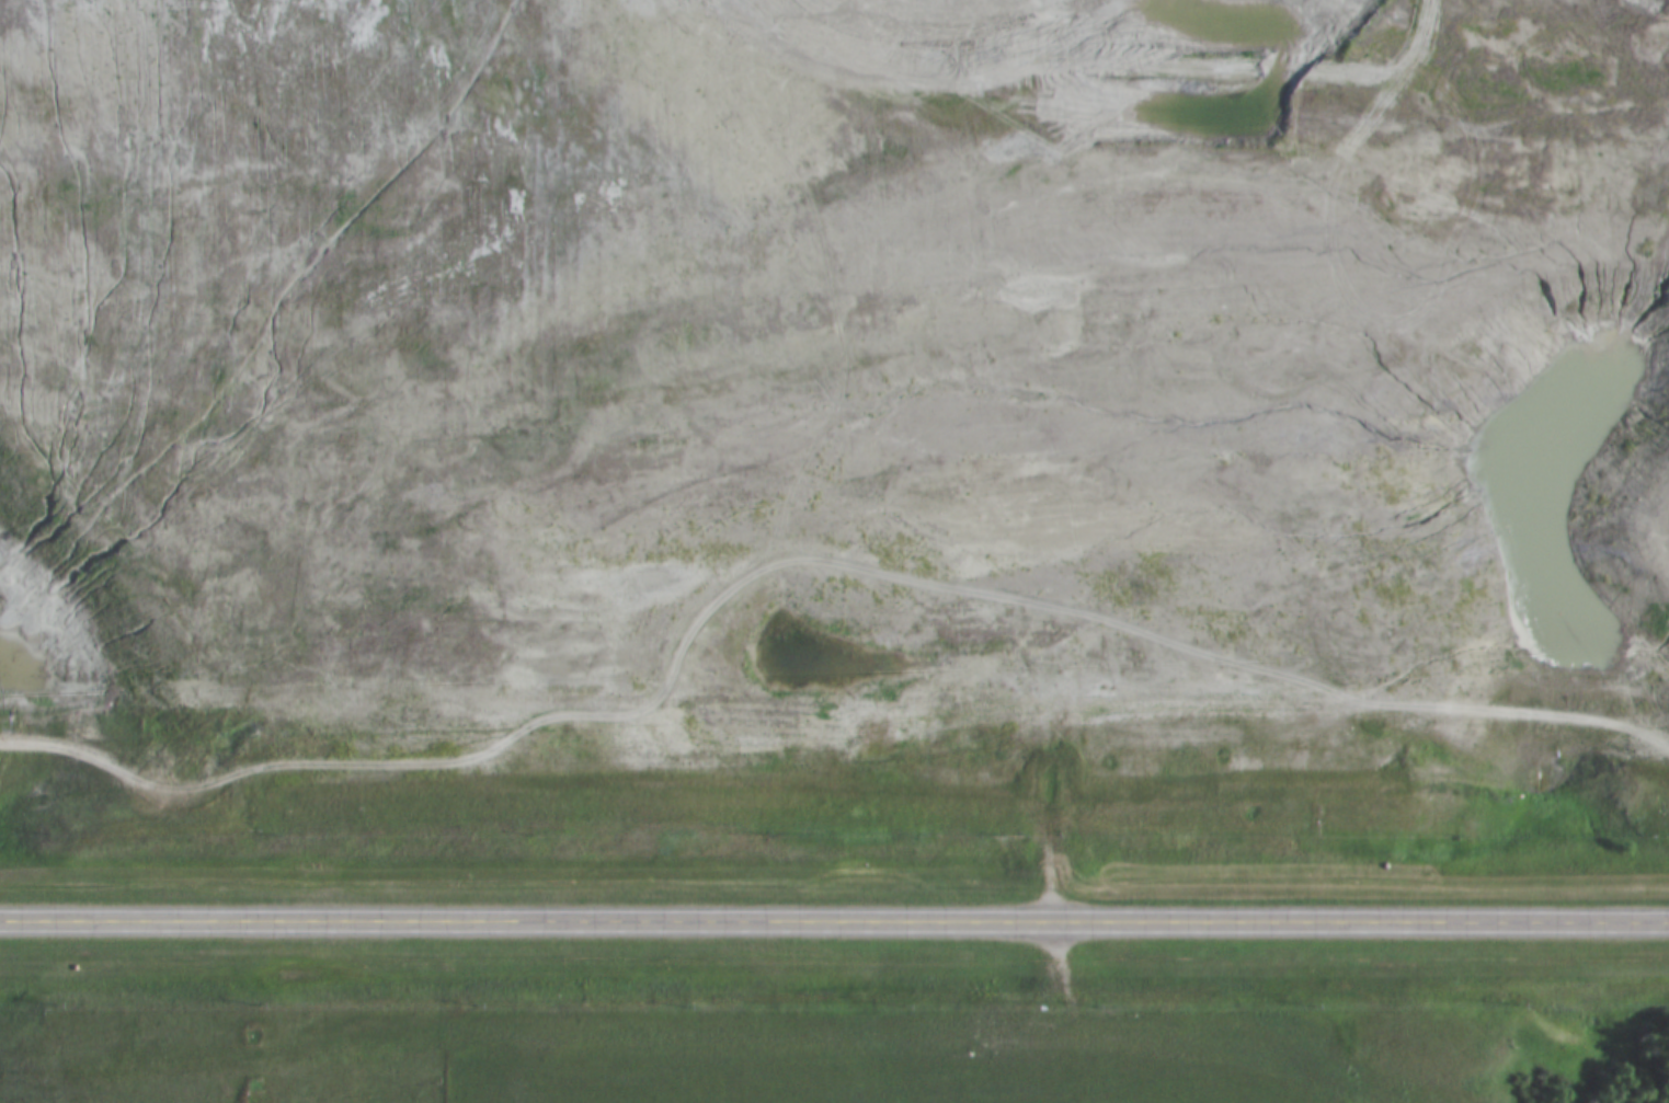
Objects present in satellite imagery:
quarry: (149, 343)
road: (834, 921)

